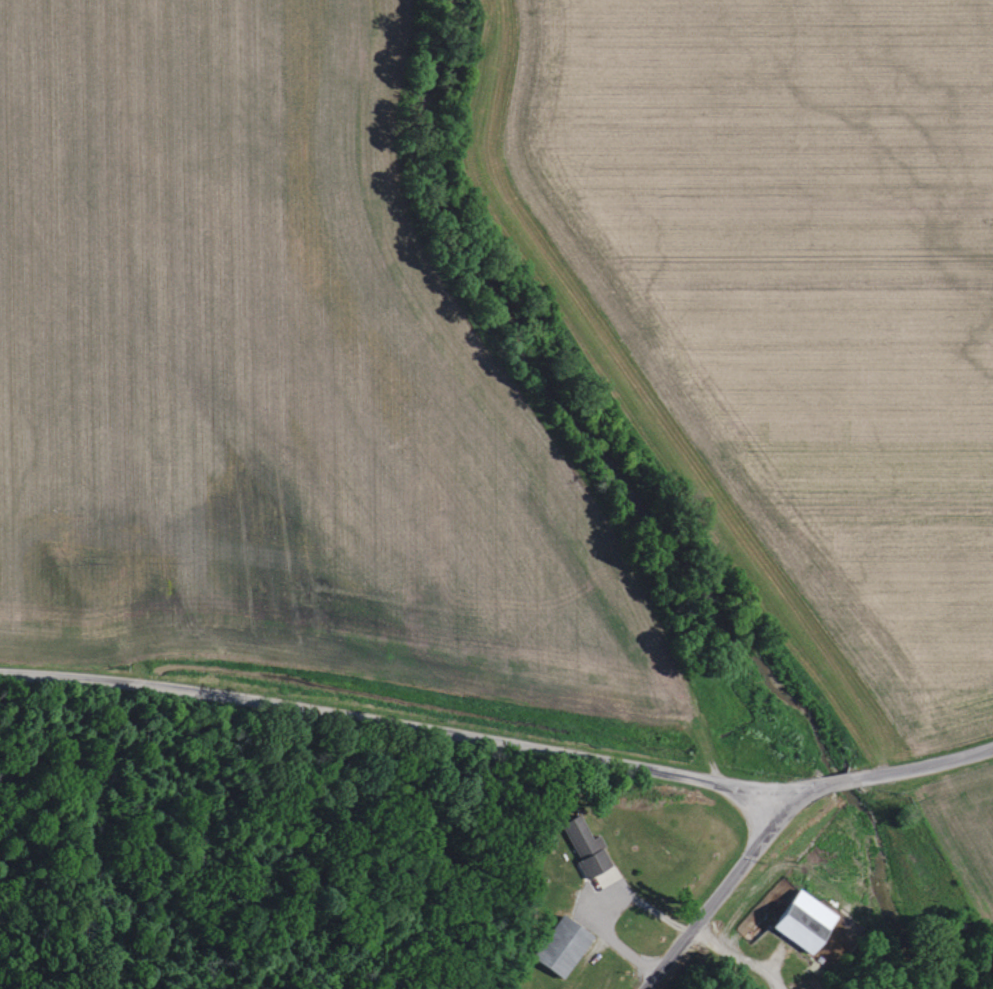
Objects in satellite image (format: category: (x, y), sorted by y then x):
road: (389, 693)
road: (881, 766)
road: (719, 894)
road: (673, 902)

